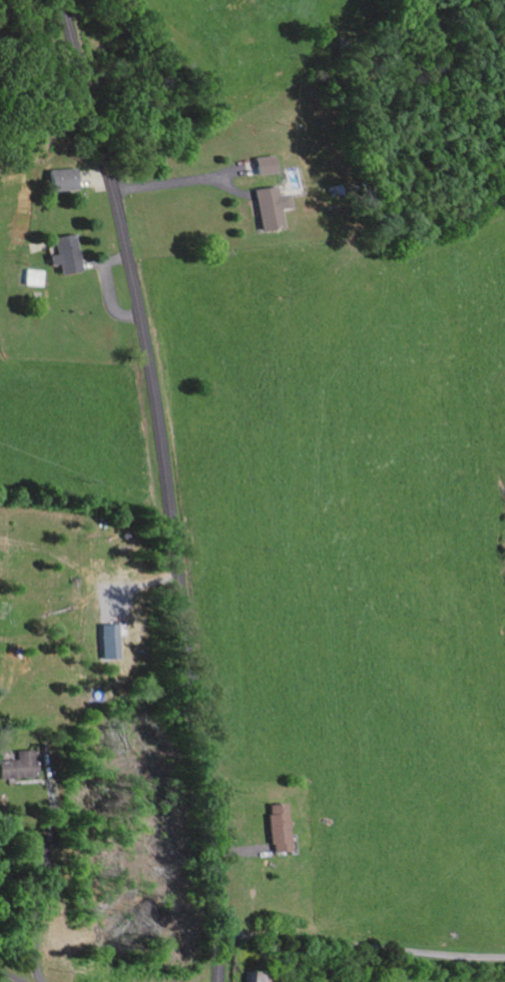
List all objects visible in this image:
building: (265, 168)
building: (63, 183)
building: (268, 210)
road: (65, 256)
building: (63, 257)
building: (31, 281)
road: (168, 486)
building: (110, 645)
building: (19, 770)
building: (277, 831)
road: (357, 957)
building: (254, 978)

